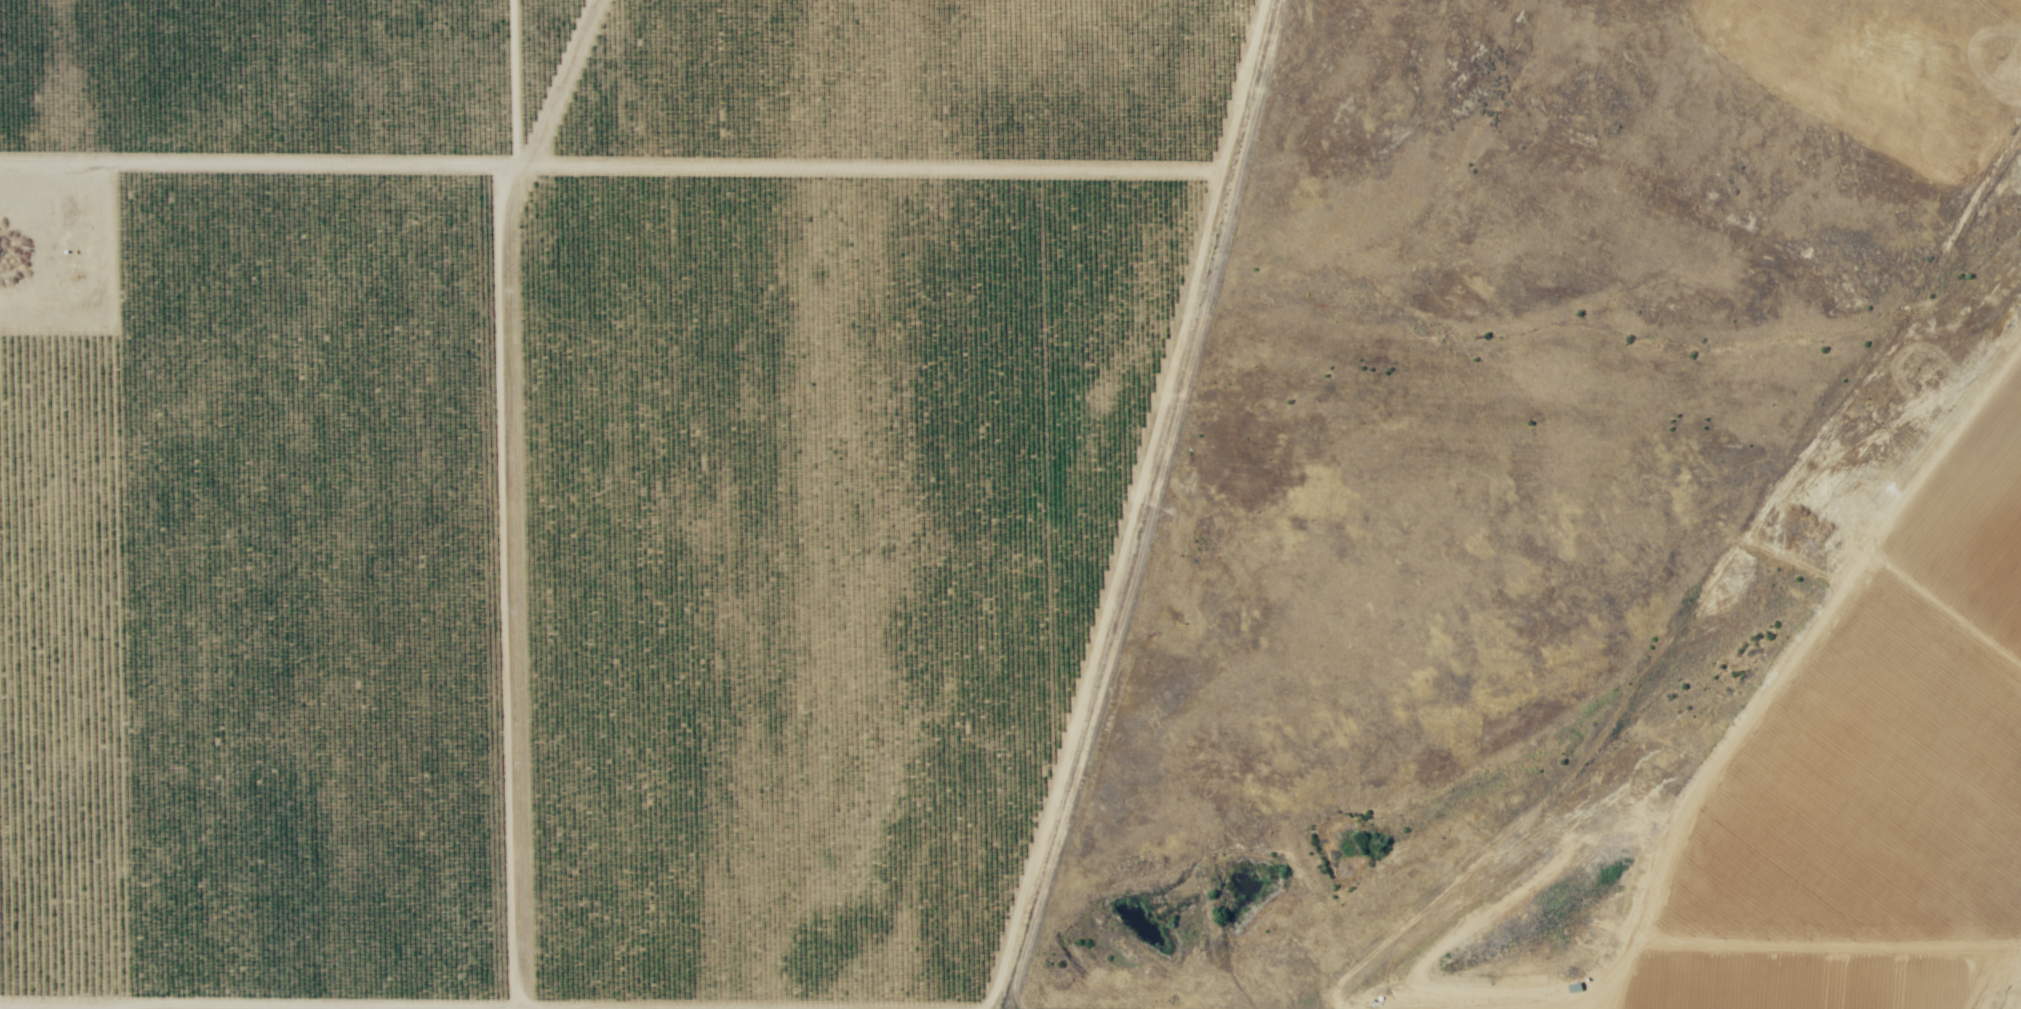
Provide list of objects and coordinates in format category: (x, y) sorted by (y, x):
road: (305, 163)
wastewater plant: (49, 262)
crop: (572, 485)
crop: (1865, 774)
building: (1574, 988)

